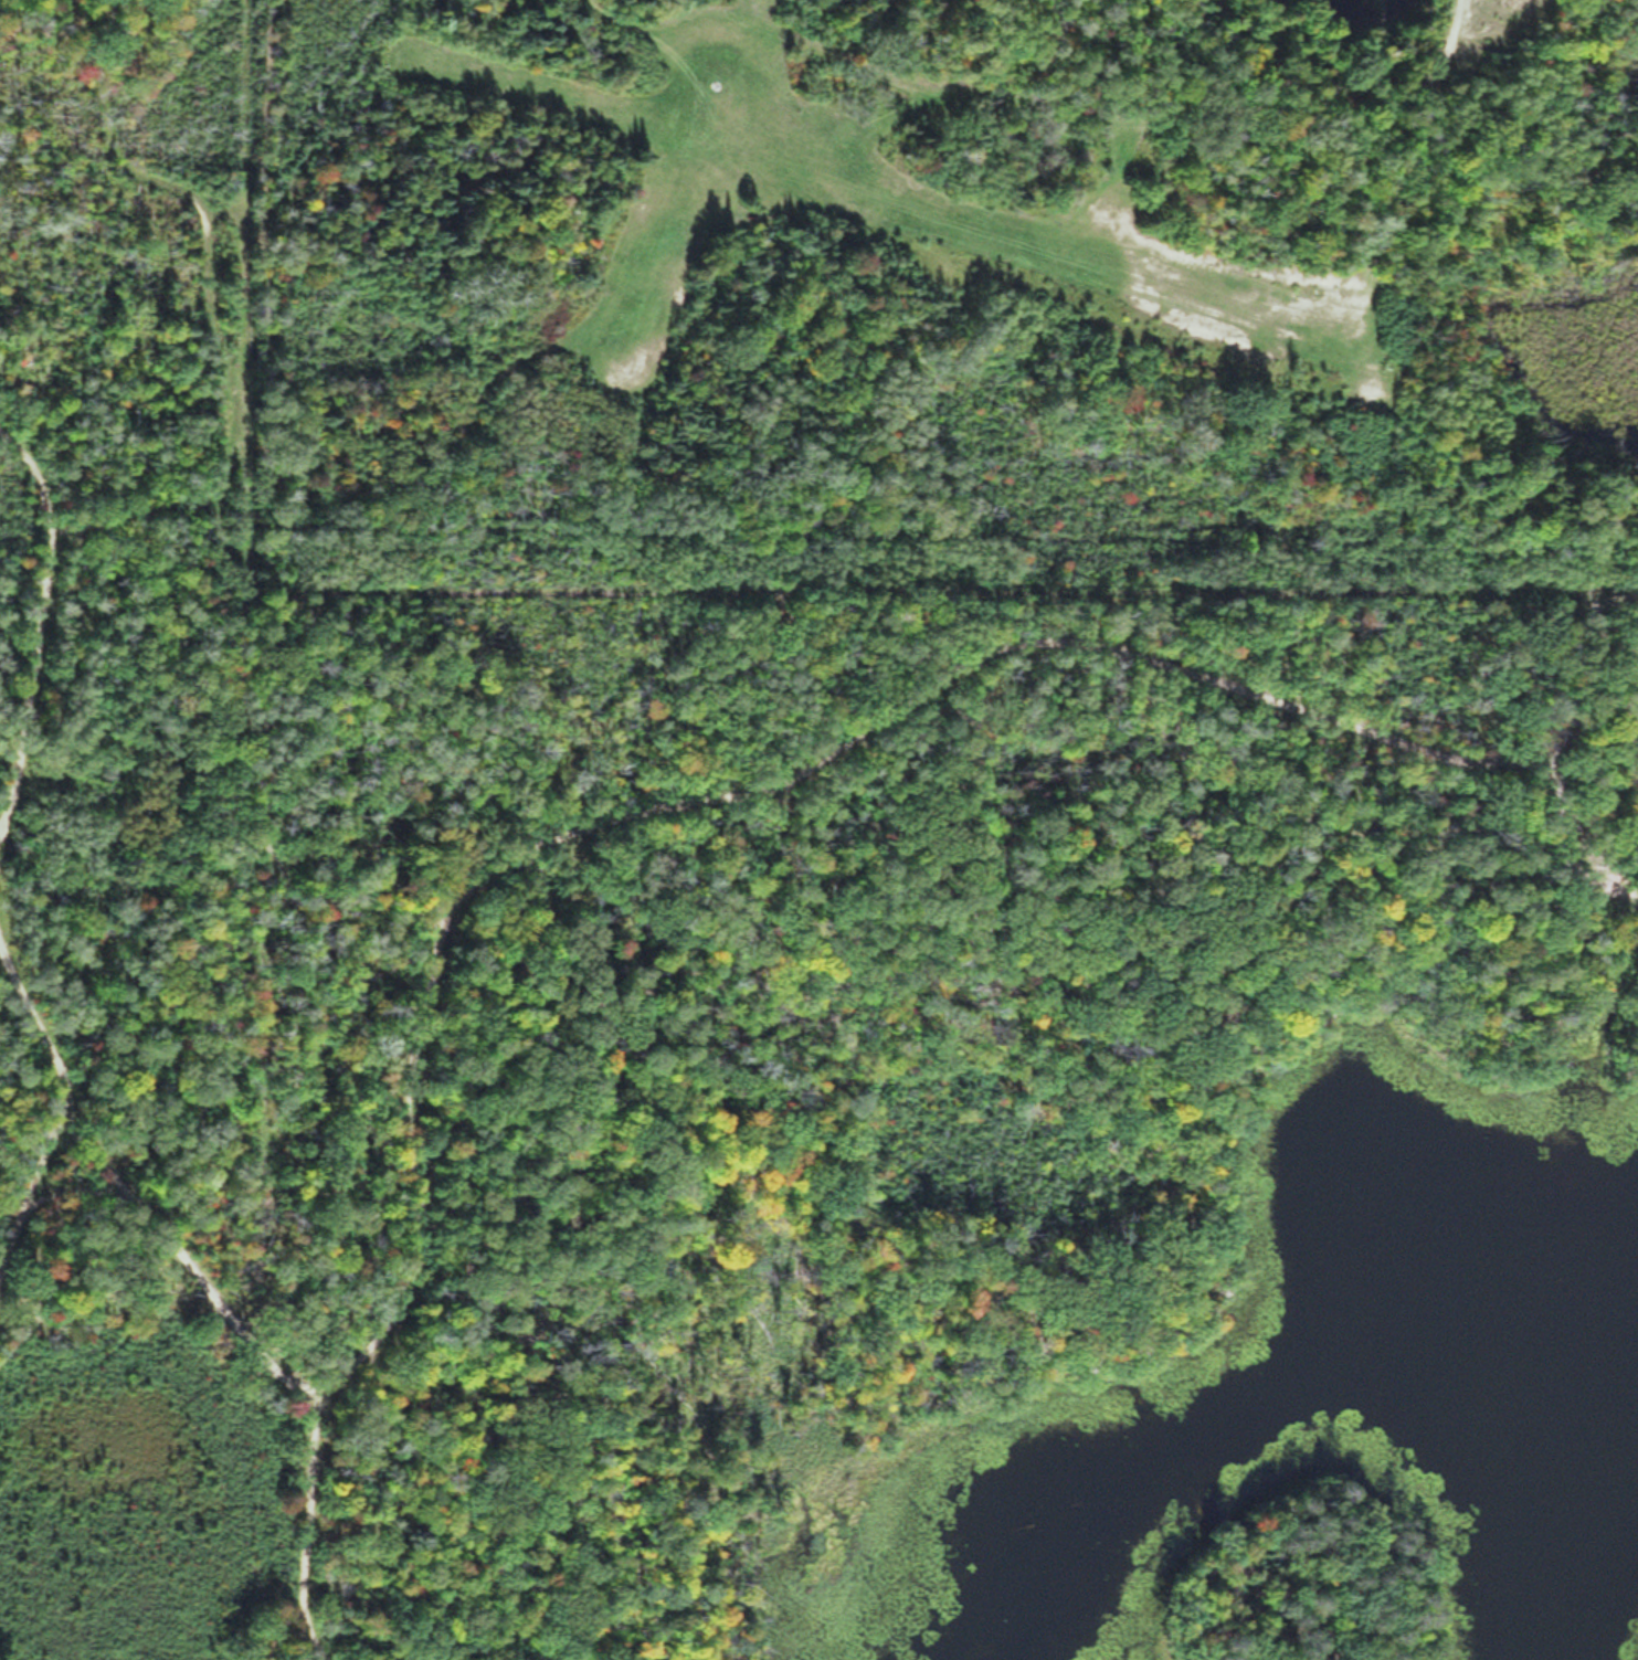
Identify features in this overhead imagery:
helipad: (802, 158)

